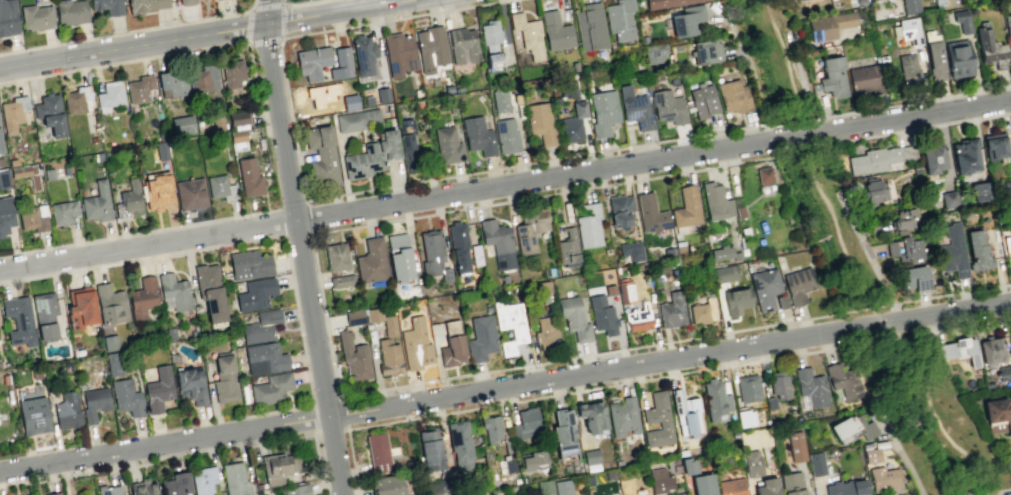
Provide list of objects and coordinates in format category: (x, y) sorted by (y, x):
building: (796, 0)
building: (186, 2)
road: (300, 3)
building: (666, 3)
building: (145, 4)
building: (108, 6)
building: (910, 6)
road: (249, 9)
building: (70, 11)
road: (267, 11)
road: (335, 11)
building: (8, 17)
building: (36, 17)
building: (619, 19)
building: (687, 19)
building: (962, 20)
building: (830, 25)
building: (590, 27)
road: (333, 29)
building: (1008, 29)
building: (908, 30)
road: (130, 31)
building: (555, 31)
building: (527, 34)
building: (463, 45)
building: (490, 45)
road: (133, 46)
building: (431, 48)
building: (990, 49)
building: (707, 51)
building: (654, 52)
building: (399, 53)
building: (363, 55)
building: (958, 58)
building: (312, 61)
building: (935, 61)
road: (122, 62)
building: (341, 64)
building: (908, 67)
building: (232, 73)
building: (833, 76)
building: (203, 79)
building: (864, 79)
road: (754, 82)
building: (172, 83)
road: (805, 83)
building: (139, 88)
building: (447, 88)
building: (567, 89)
building: (322, 94)
building: (109, 95)
building: (382, 95)
building: (733, 96)
building: (703, 98)
building: (76, 99)
building: (367, 100)
building: (500, 100)
building: (349, 102)
building: (668, 106)
building: (578, 108)
building: (635, 108)
building: (602, 111)
building: (13, 113)
building: (50, 113)
building: (237, 119)
building: (355, 119)
building: (540, 122)
building: (217, 123)
building: (181, 125)
building: (404, 125)
building: (570, 129)
road: (907, 130)
building: (478, 135)
building: (506, 135)
building: (237, 139)
road: (657, 141)
building: (388, 144)
building: (1, 145)
building: (447, 145)
building: (994, 145)
building: (161, 151)
building: (408, 151)
building: (321, 155)
building: (98, 156)
road: (806, 156)
building: (965, 156)
building: (932, 158)
building: (878, 159)
building: (0, 161)
building: (12, 162)
building: (362, 162)
building: (65, 170)
building: (26, 174)
building: (48, 174)
building: (764, 176)
building: (248, 177)
building: (3, 179)
road: (505, 185)
building: (221, 187)
building: (1006, 188)
building: (980, 190)
building: (156, 191)
building: (873, 191)
building: (190, 193)
building: (130, 196)
building: (948, 198)
building: (715, 201)
building: (97, 202)
road: (291, 204)
building: (686, 207)
building: (1008, 208)
building: (619, 210)
building: (739, 211)
building: (63, 212)
building: (650, 213)
building: (6, 214)
building: (31, 219)
building: (905, 219)
building: (588, 225)
building: (529, 229)
road: (138, 232)
building: (497, 242)
building: (1007, 243)
building: (458, 245)
building: (567, 246)
building: (904, 248)
building: (630, 250)
building: (976, 250)
building: (952, 251)
road: (868, 252)
building: (724, 253)
building: (475, 254)
building: (433, 255)
building: (336, 257)
building: (399, 257)
road: (302, 259)
building: (371, 261)
building: (249, 264)
park: (859, 265)
building: (724, 273)
building: (914, 277)
building: (341, 281)
building: (798, 285)
building: (541, 286)
building: (765, 287)
building: (609, 288)
building: (174, 291)
building: (210, 291)
building: (626, 291)
road: (954, 293)
building: (255, 294)
building: (142, 298)
building: (736, 300)
building: (781, 301)
road: (891, 303)
building: (110, 304)
road: (878, 305)
building: (81, 308)
building: (672, 310)
building: (702, 311)
building: (44, 314)
building: (373, 314)
building: (601, 315)
building: (353, 317)
building: (638, 317)
building: (574, 318)
building: (19, 320)
road: (883, 321)
building: (509, 324)
building: (389, 325)
building: (261, 326)
road: (954, 326)
building: (545, 328)
building: (1010, 336)
building: (480, 338)
building: (110, 342)
building: (415, 344)
building: (451, 344)
building: (958, 350)
building: (991, 350)
road: (605, 351)
building: (353, 357)
building: (388, 357)
building: (264, 358)
building: (113, 363)
building: (95, 364)
building: (224, 379)
building: (844, 380)
building: (778, 384)
building: (190, 385)
road: (505, 385)
building: (811, 387)
building: (271, 388)
road: (589, 388)
building: (747, 388)
building: (158, 389)
building: (126, 397)
building: (715, 400)
building: (769, 402)
building: (94, 403)
building: (67, 410)
building: (685, 413)
building: (33, 415)
building: (997, 415)
building: (622, 416)
building: (745, 417)
building: (592, 418)
building: (657, 420)
road: (936, 422)
building: (526, 423)
building: (490, 428)
building: (852, 429)
building: (563, 434)
building: (459, 442)
building: (796, 446)
building: (430, 449)
road: (902, 451)
building: (377, 452)
building: (871, 455)
building: (590, 456)
building: (532, 460)
building: (751, 463)
building: (816, 463)
building: (687, 465)
building: (278, 467)
building: (610, 474)
building: (884, 478)
building: (203, 479)
building: (234, 479)
building: (588, 479)
building: (658, 480)
building: (791, 483)
building: (175, 484)
building: (702, 484)
building: (386, 485)
building: (544, 486)
building: (731, 486)
building: (144, 487)
building: (562, 487)
building: (633, 487)
building: (767, 487)
building: (846, 487)
building: (296, 489)
building: (108, 490)
road: (989, 491)
building: (53, 493)
building: (676, 494)

